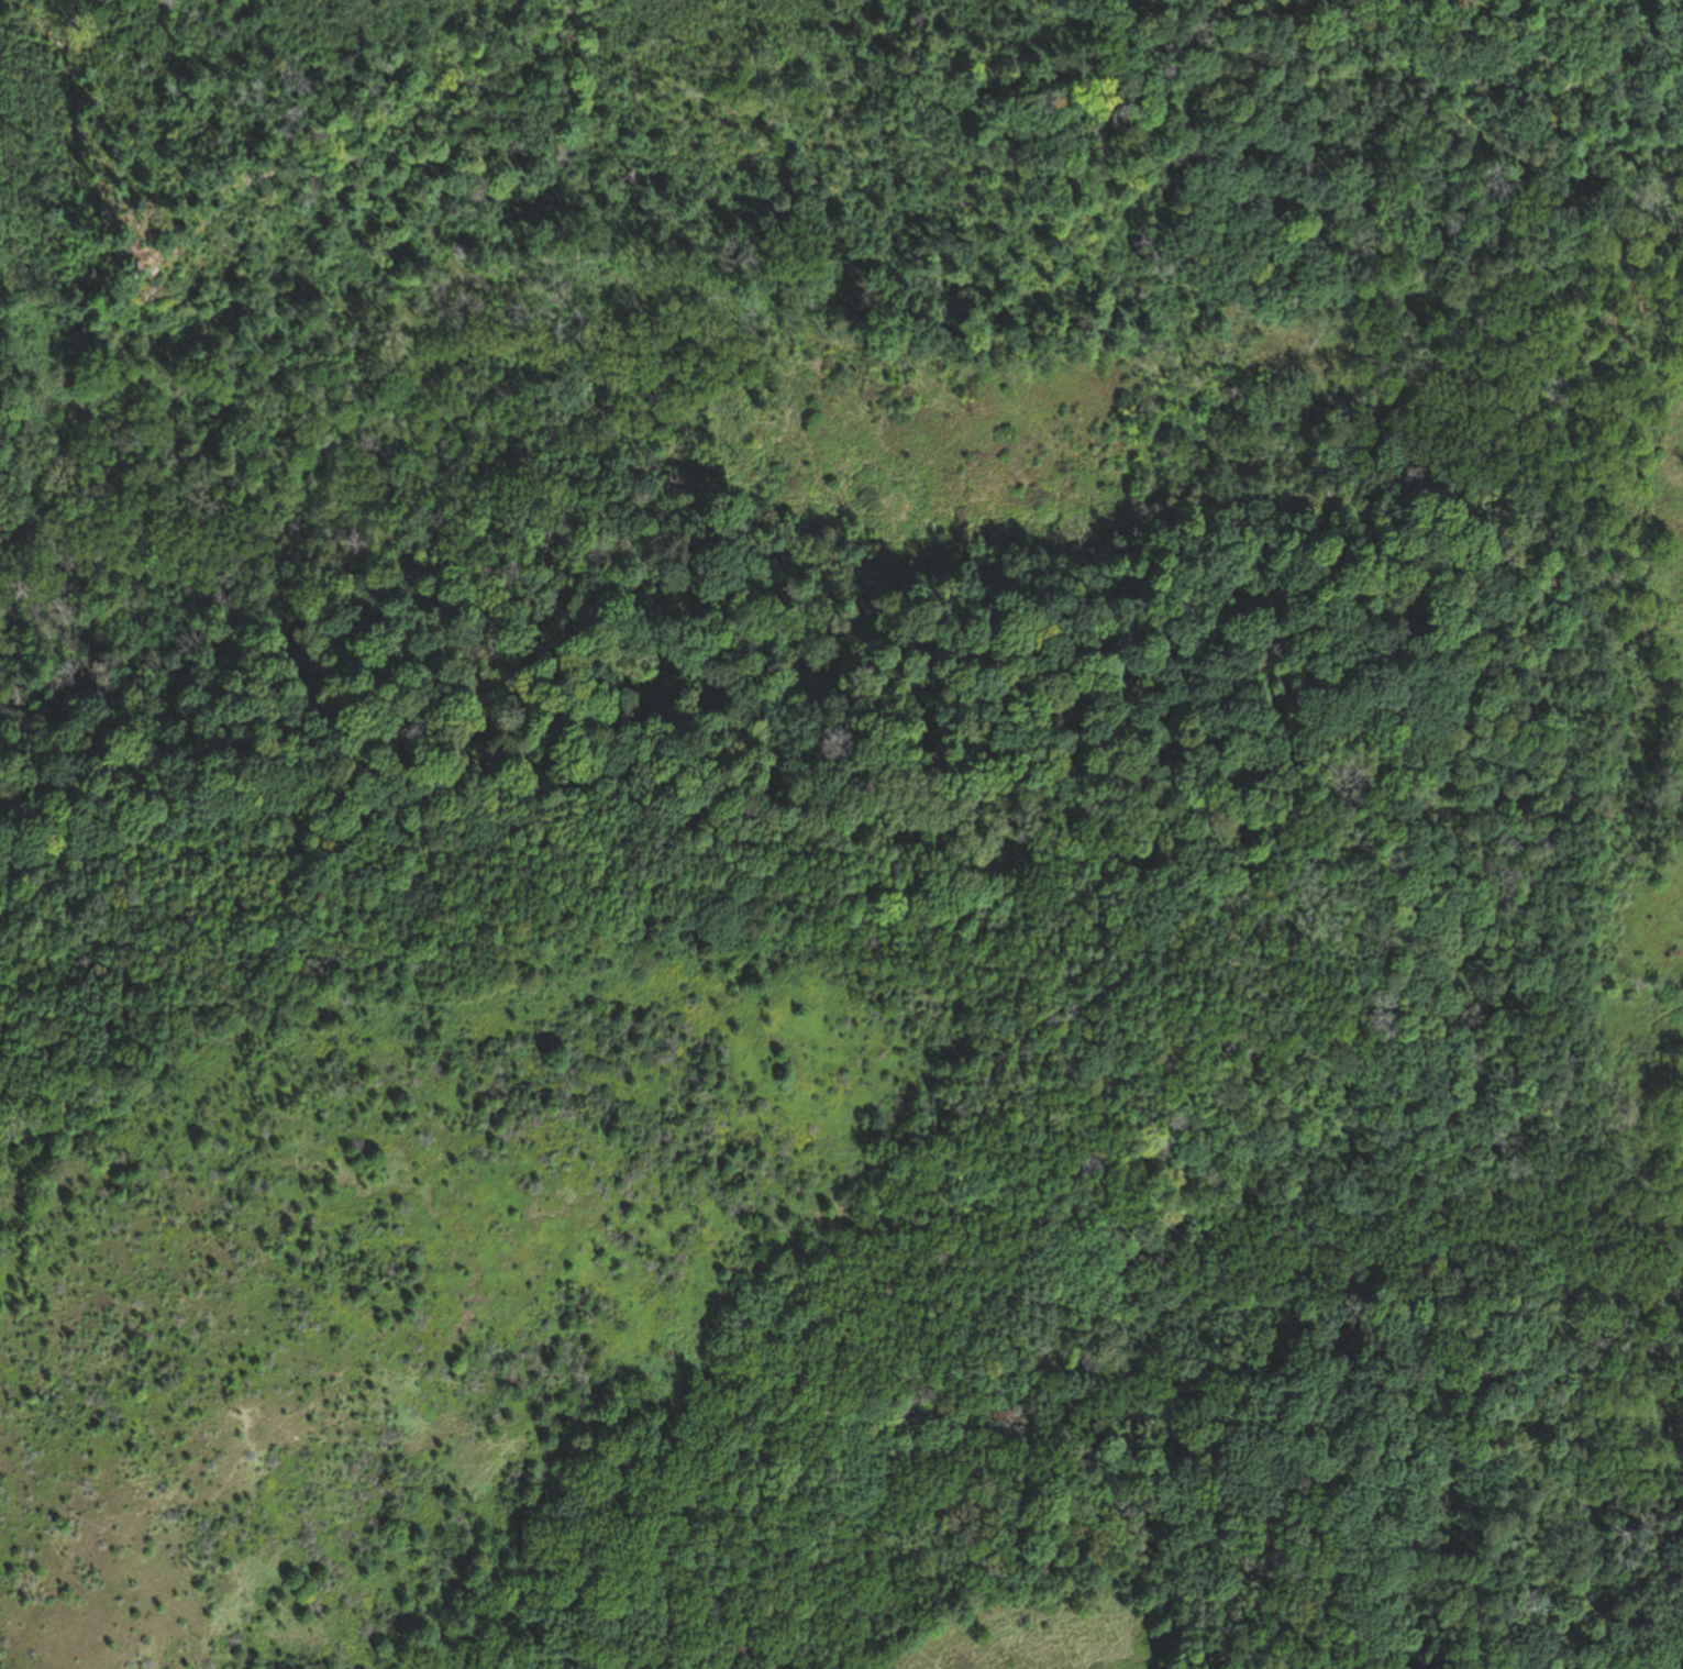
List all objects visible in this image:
road: (1560, 30)

